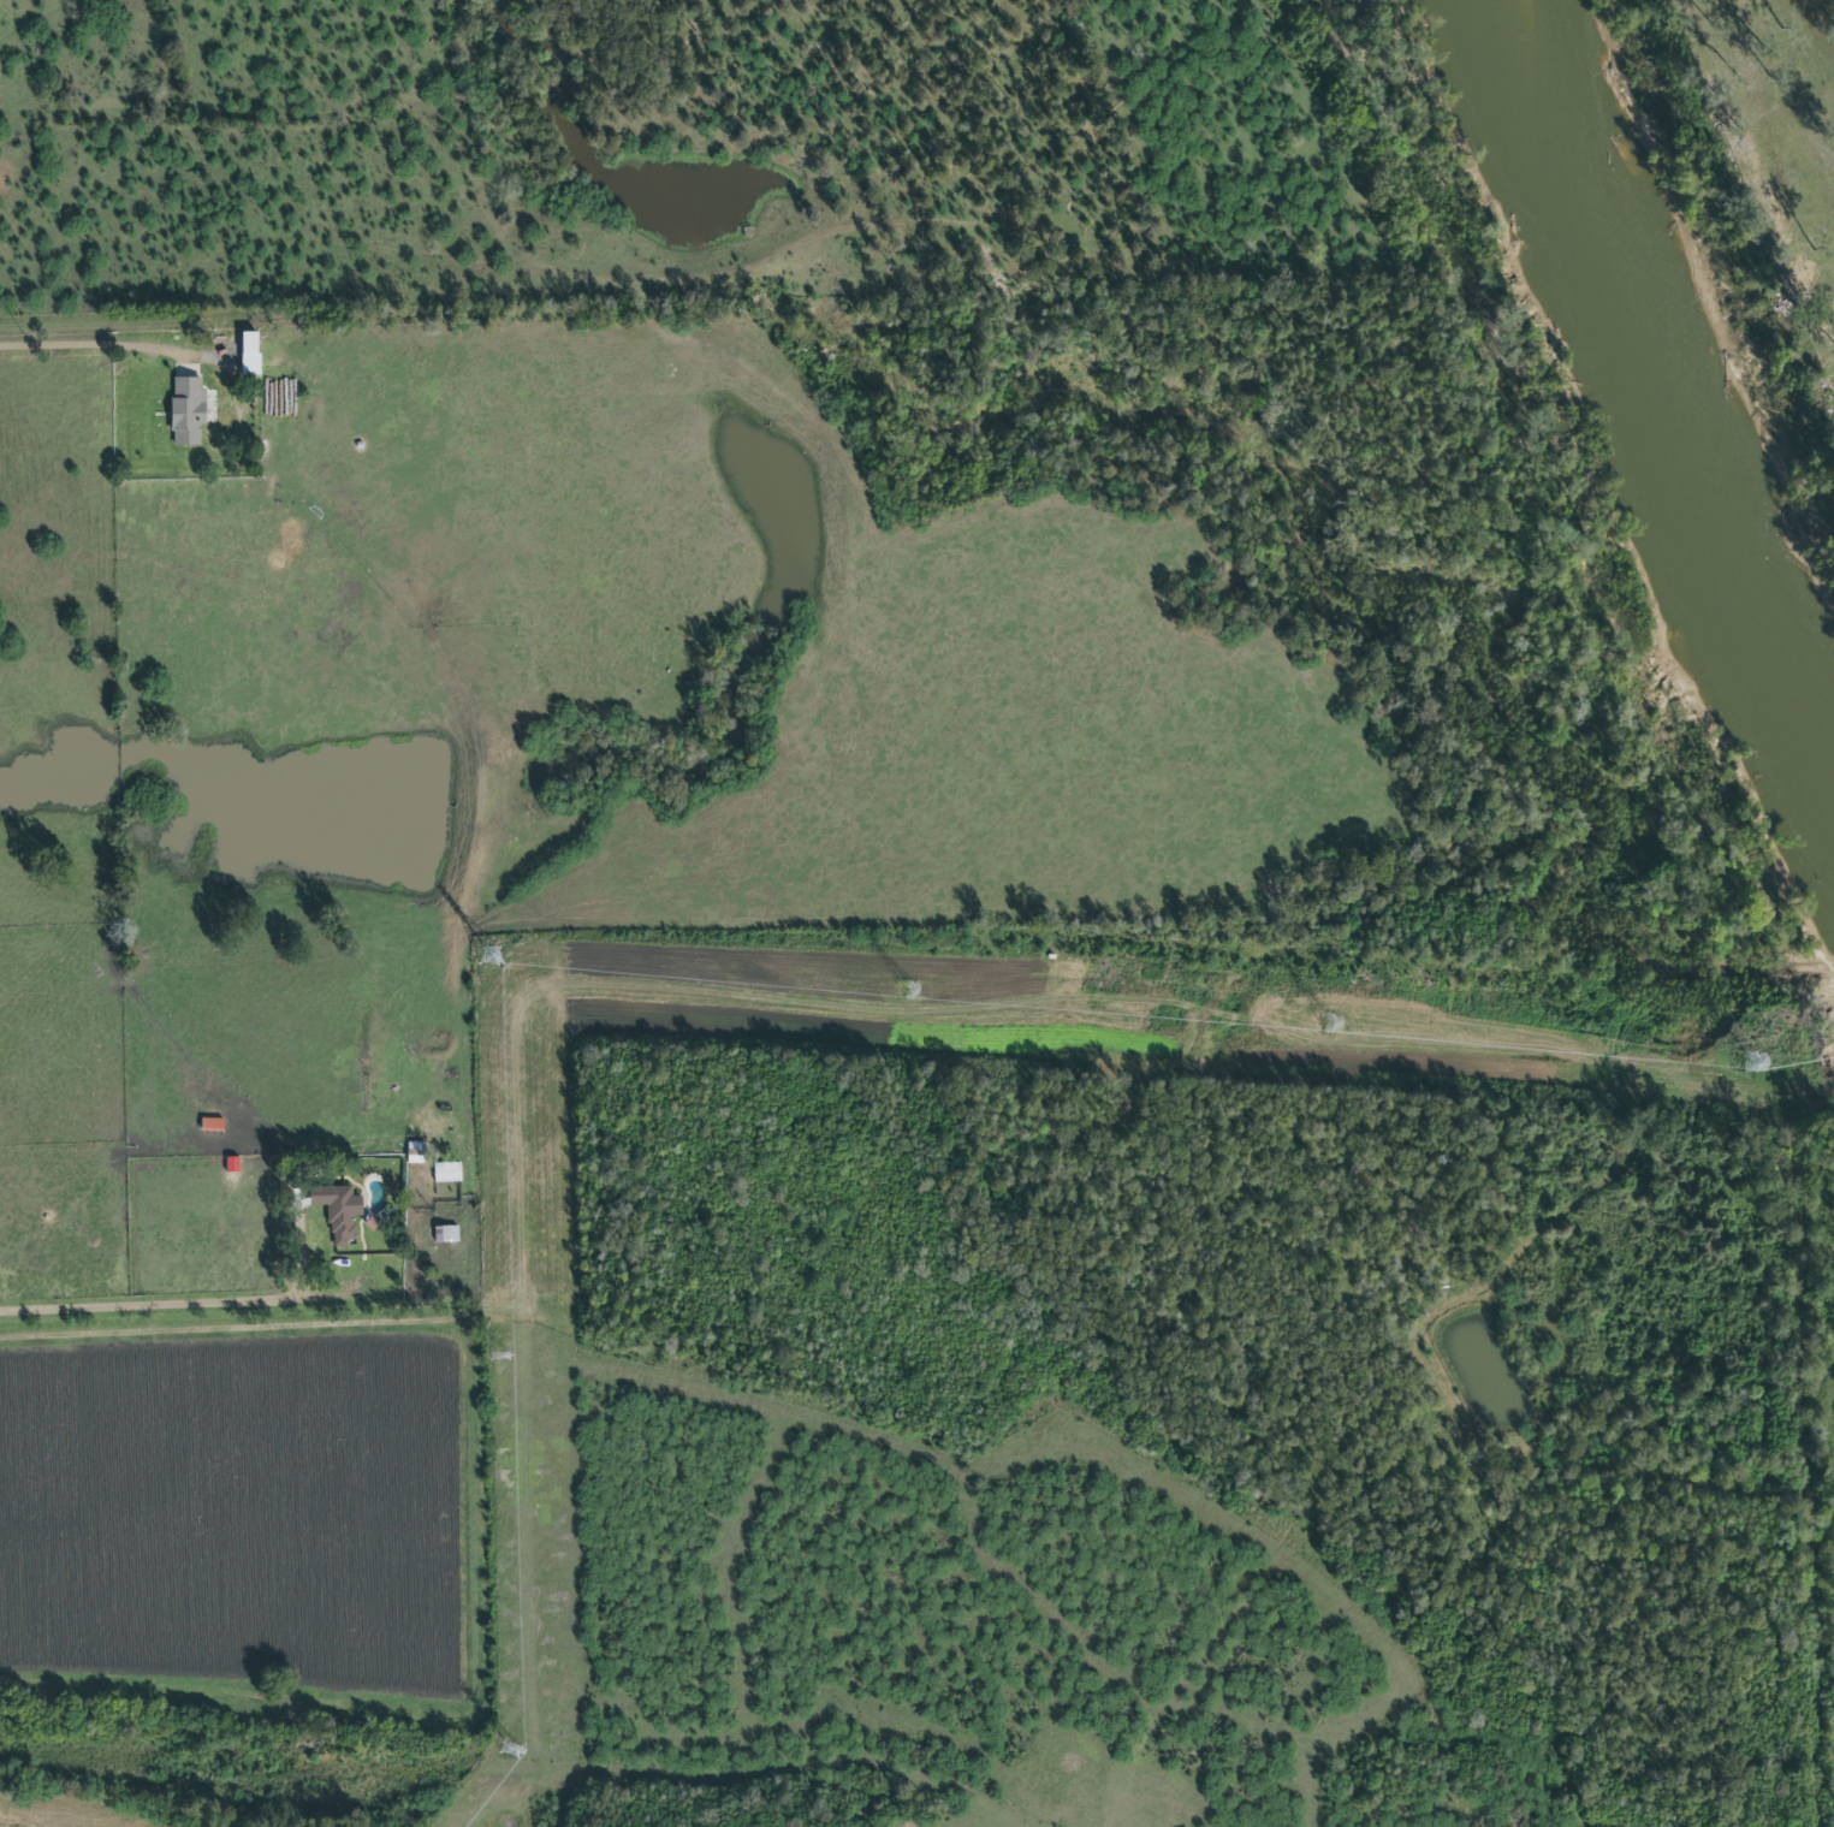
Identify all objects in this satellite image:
road: (82, 351)
building: (250, 354)
river: (1661, 382)
building: (188, 410)
power tower: (488, 959)
power tower: (906, 992)
power tower: (1326, 1027)
power tower: (1750, 1063)
building: (212, 1125)
building: (446, 1173)
building: (340, 1216)
road: (231, 1300)
power tower: (495, 1352)
power tower: (511, 1745)

